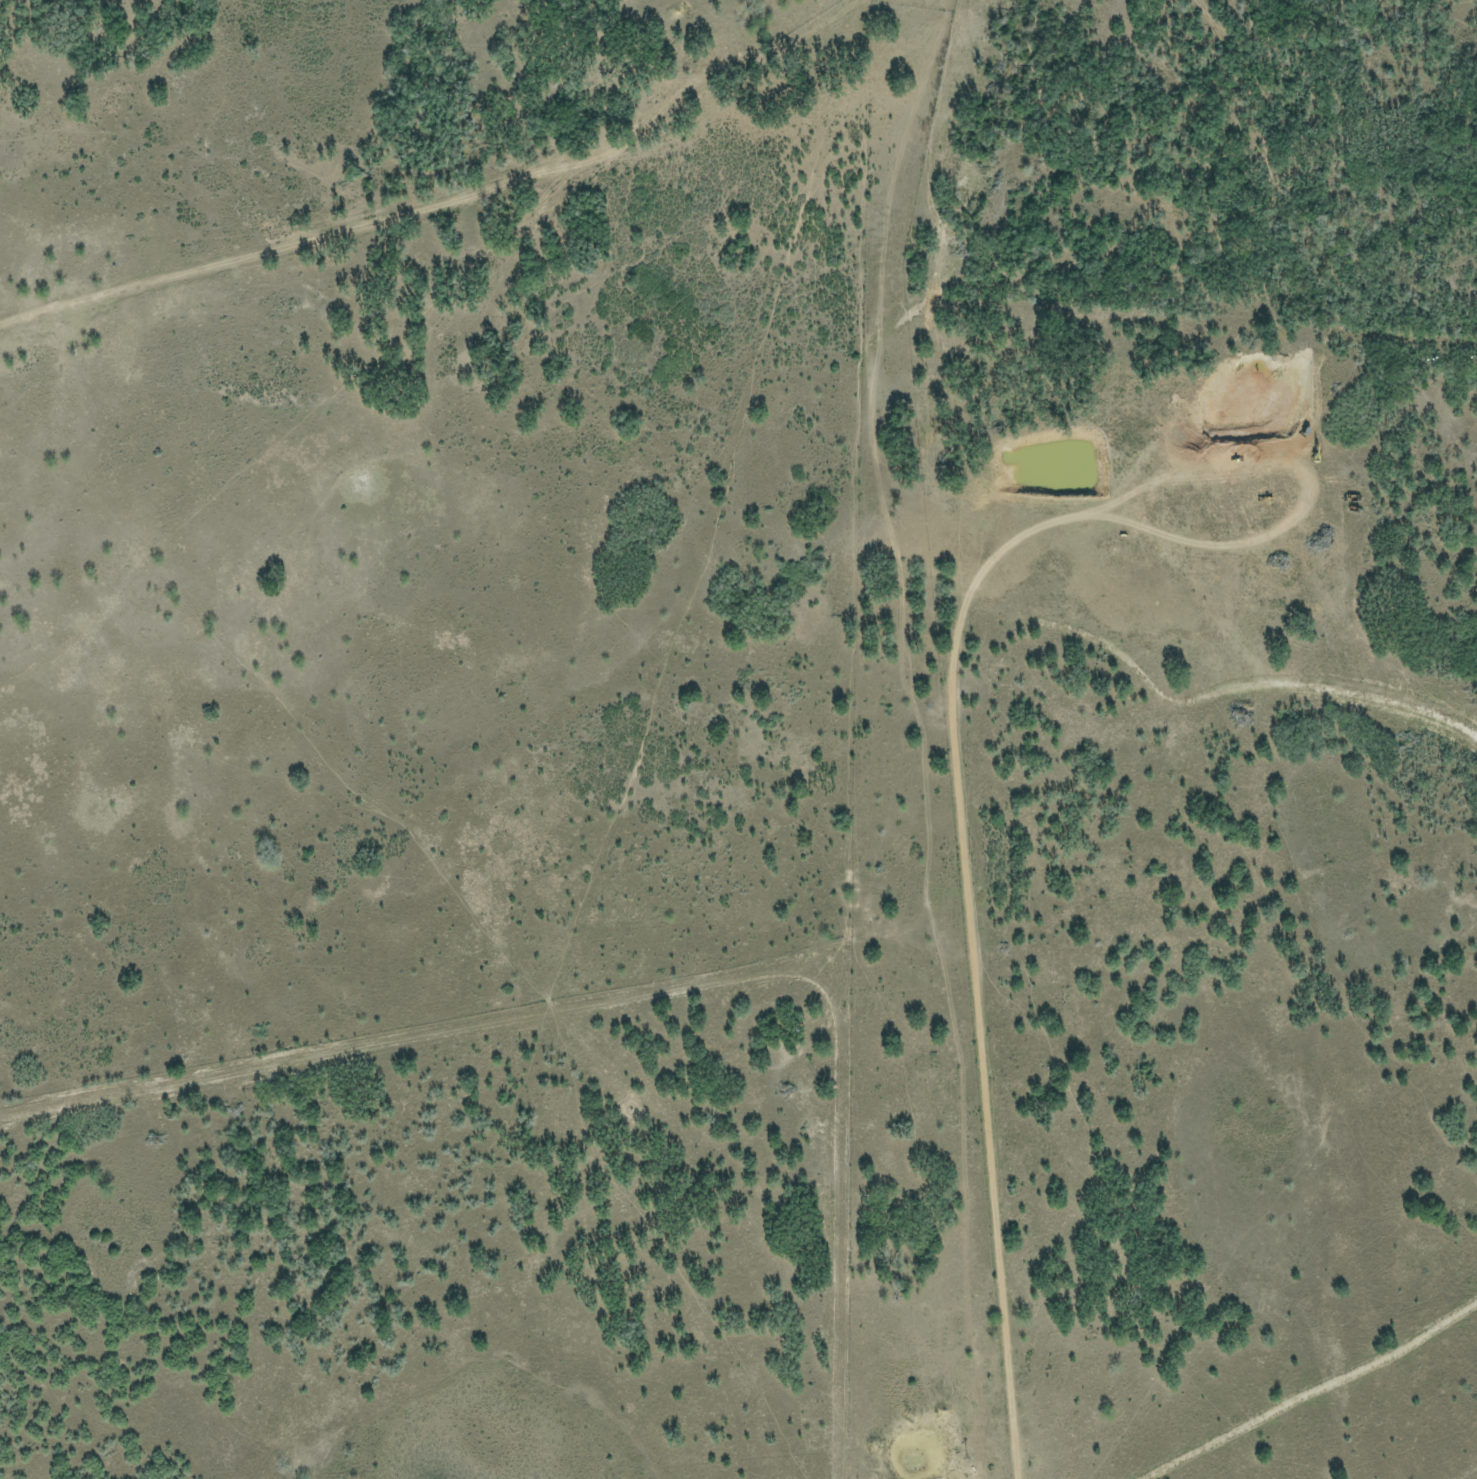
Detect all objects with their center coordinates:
road: (470, 210)

